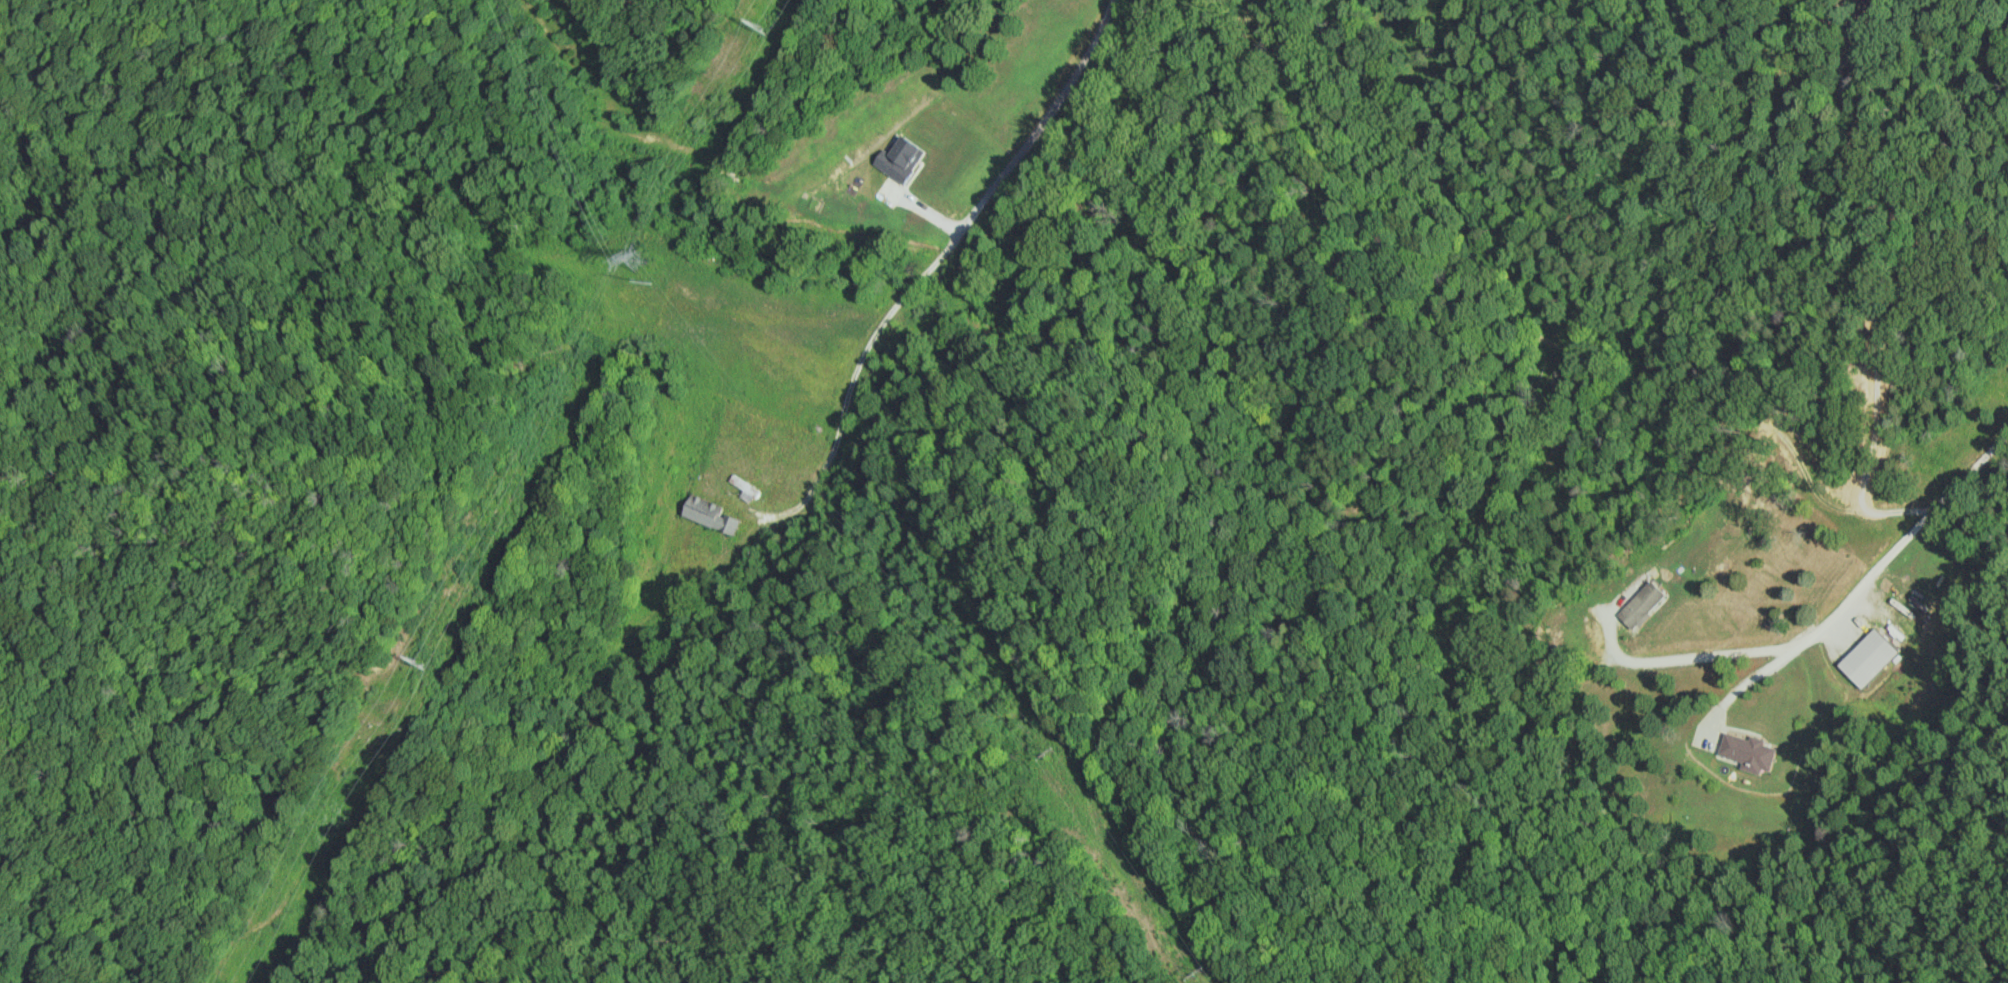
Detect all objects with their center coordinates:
road: (1015, 167)
building: (744, 486)
building: (710, 516)
road: (1861, 583)
building: (1868, 658)
building: (1749, 759)

